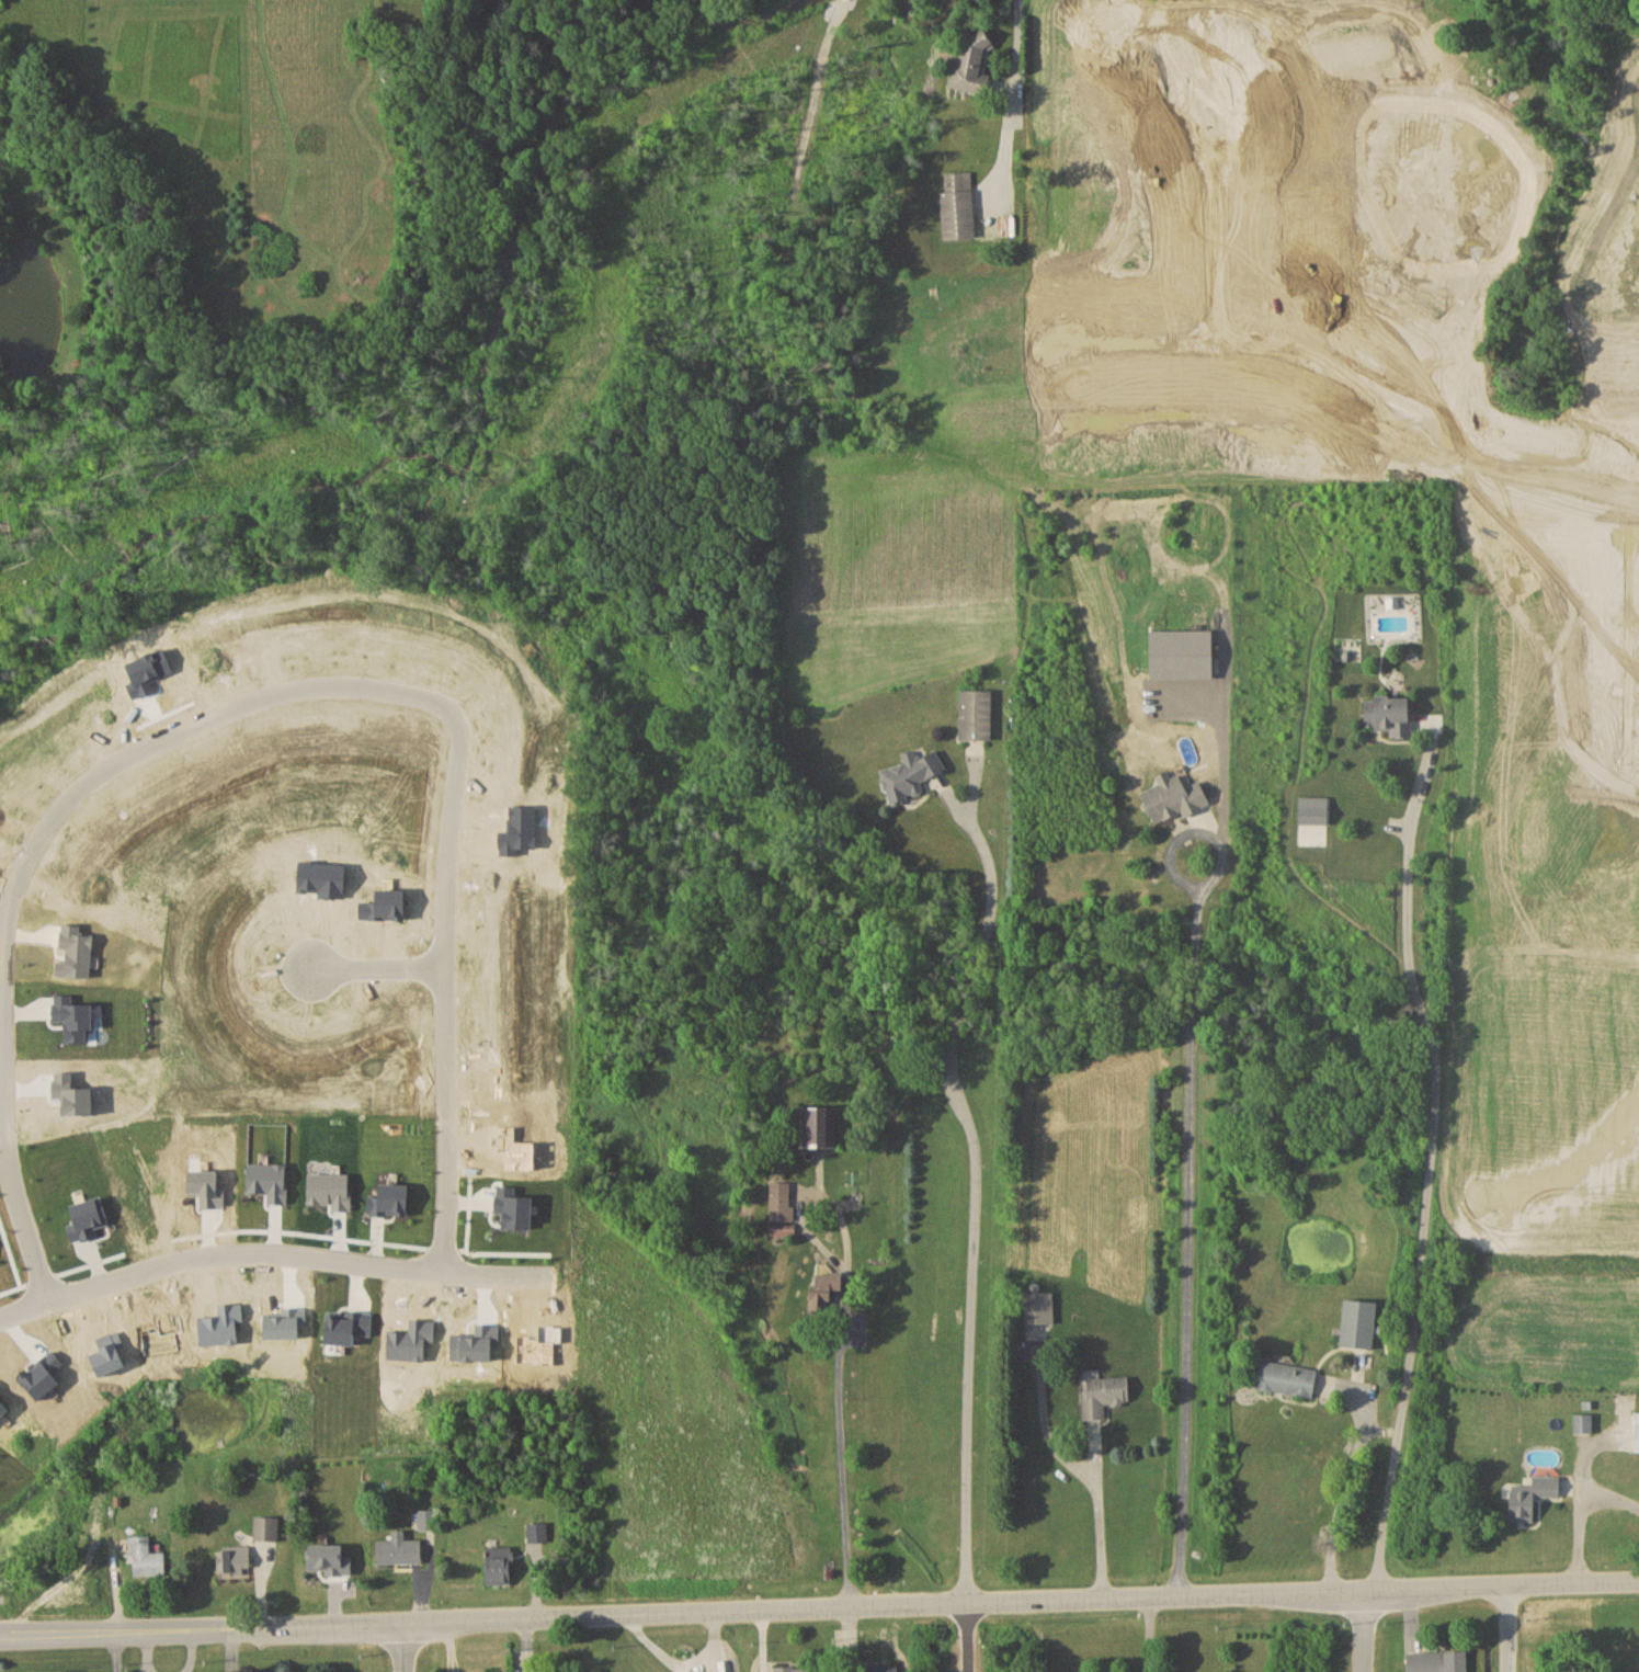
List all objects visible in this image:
building: (972, 62)
road: (1008, 105)
building: (958, 206)
road: (1219, 240)
road: (1355, 383)
road: (413, 697)
building: (976, 714)
building: (1391, 715)
building: (911, 775)
building: (1175, 797)
road: (378, 967)
road: (5, 1060)
building: (820, 1127)
road: (1430, 1164)
road: (443, 1171)
road: (976, 1197)
building: (782, 1212)
road: (1192, 1226)
road: (264, 1260)
building: (826, 1287)
building: (1039, 1307)
building: (1359, 1322)
building: (1287, 1378)
building: (1104, 1394)
road: (835, 1417)
building: (1637, 1432)
road: (1343, 1492)
building: (1533, 1495)
road: (1578, 1498)
road: (1608, 1499)
building: (426, 1517)
road: (1100, 1524)
building: (266, 1527)
building: (536, 1531)
building: (399, 1549)
building: (145, 1557)
building: (235, 1559)
building: (500, 1565)
road: (48, 1581)
road: (819, 1607)
road: (1366, 1629)
road: (1509, 1629)
road: (1143, 1634)
road: (967, 1637)
road: (400, 1648)
road: (117, 1653)
building: (1437, 1661)
building: (881, 1668)
building: (792, 1669)

